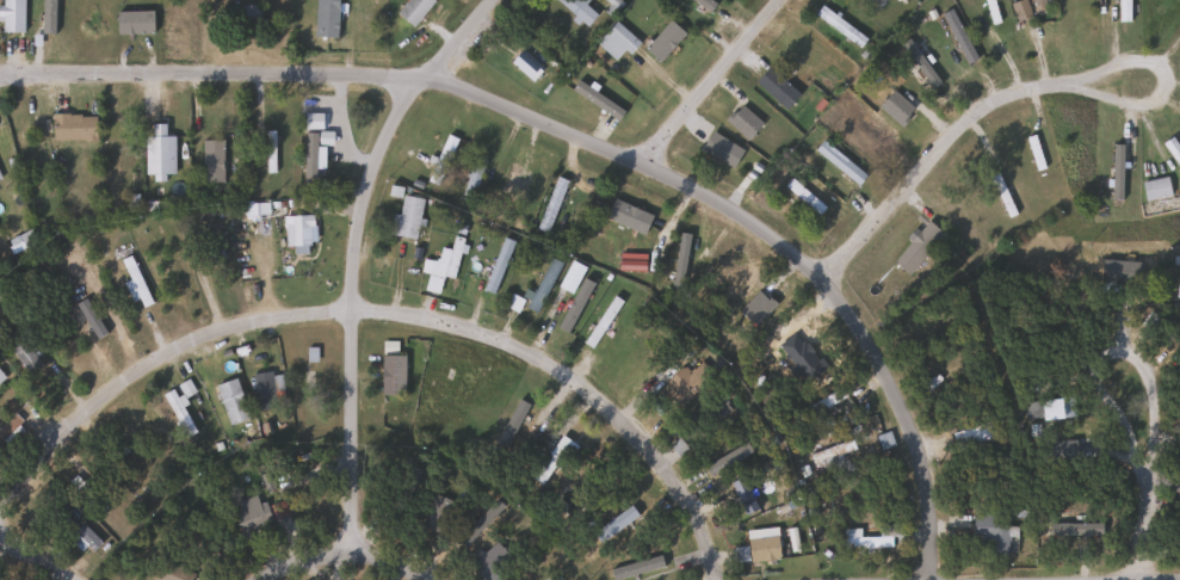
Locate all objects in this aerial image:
building: (611, 4)
building: (871, 4)
building: (704, 5)
building: (1038, 7)
building: (413, 10)
building: (577, 10)
building: (990, 11)
building: (1019, 11)
building: (1123, 11)
building: (11, 16)
building: (240, 16)
building: (325, 18)
building: (839, 27)
building: (957, 37)
building: (616, 42)
building: (525, 66)
road: (711, 82)
building: (776, 88)
road: (1151, 103)
building: (72, 127)
road: (588, 140)
building: (109, 147)
building: (1172, 150)
building: (268, 152)
road: (932, 152)
building: (1033, 152)
building: (157, 153)
building: (440, 159)
building: (210, 160)
building: (309, 160)
building: (839, 162)
building: (472, 175)
building: (505, 185)
building: (1154, 187)
building: (803, 196)
building: (550, 204)
building: (404, 217)
building: (622, 224)
building: (299, 234)
building: (211, 243)
building: (916, 246)
road: (357, 251)
building: (446, 261)
building: (496, 265)
building: (134, 280)
building: (542, 284)
building: (1059, 285)
building: (1178, 289)
building: (512, 303)
road: (391, 310)
building: (601, 321)
road: (1091, 347)
building: (19, 350)
building: (390, 369)
building: (1, 377)
building: (684, 382)
building: (265, 391)
building: (230, 401)
building: (1056, 408)
building: (177, 412)
building: (508, 427)
building: (162, 431)
building: (972, 436)
building: (832, 455)
building: (550, 457)
building: (1176, 487)
building: (745, 495)
road: (1154, 510)
building: (435, 513)
building: (251, 514)
building: (74, 530)
building: (990, 532)
building: (863, 539)
road: (345, 545)
building: (761, 548)
road: (29, 556)
building: (168, 572)
road: (1087, 574)

